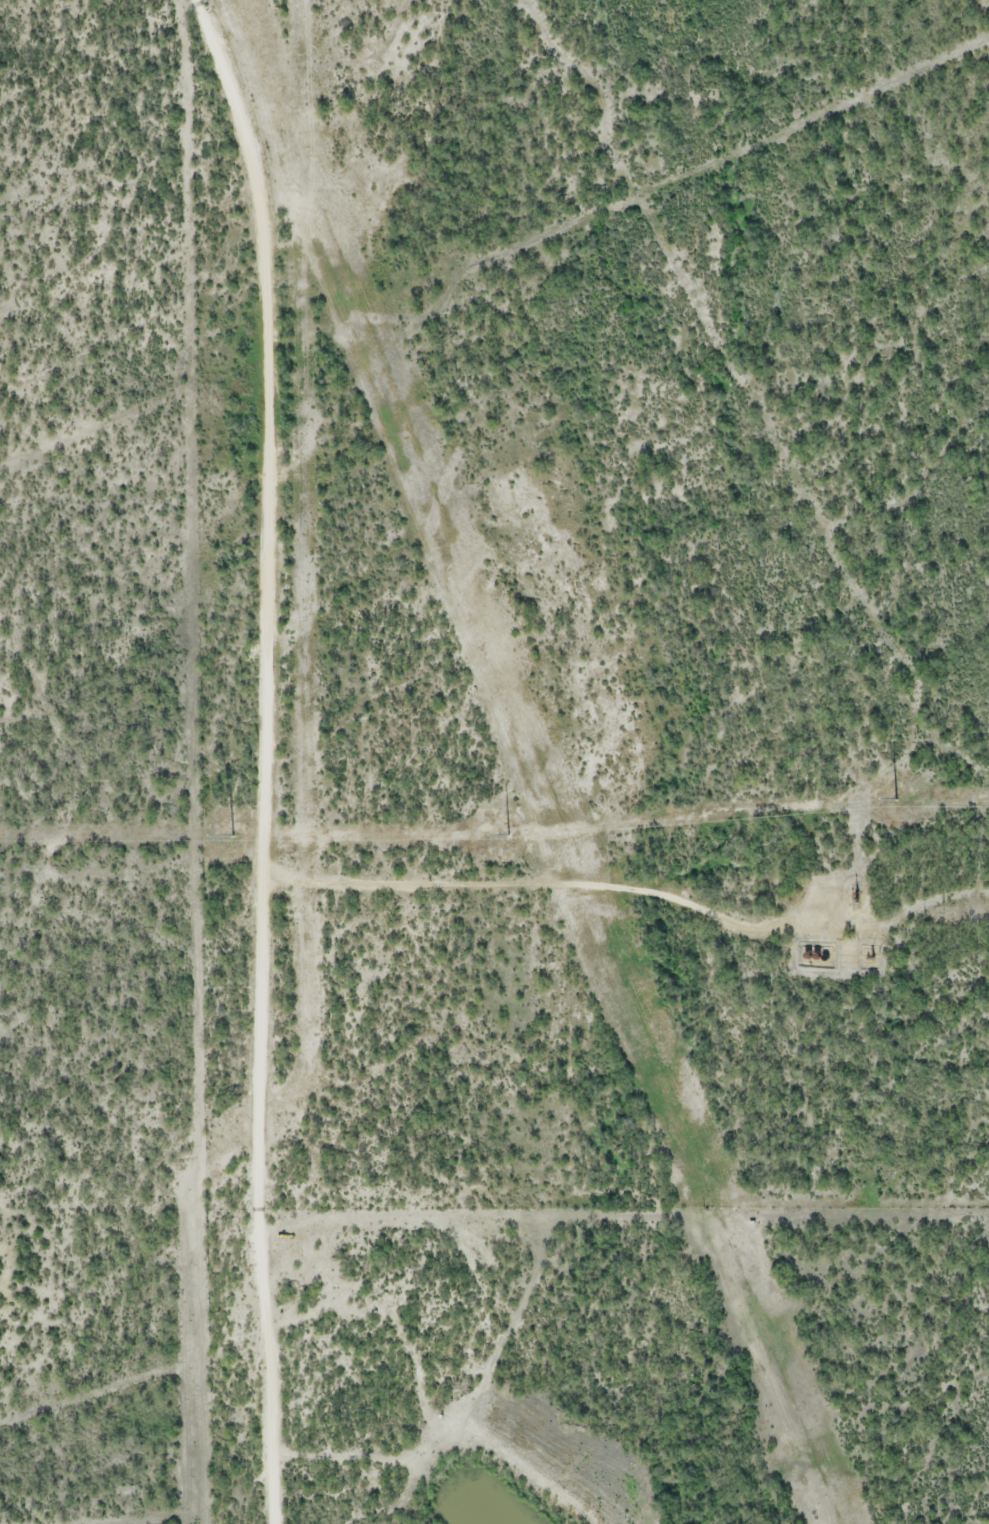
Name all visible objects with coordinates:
road: (261, 601)
power tower: (896, 800)
power tower: (234, 833)
power tower: (507, 834)
road: (624, 1221)
road: (266, 1368)

